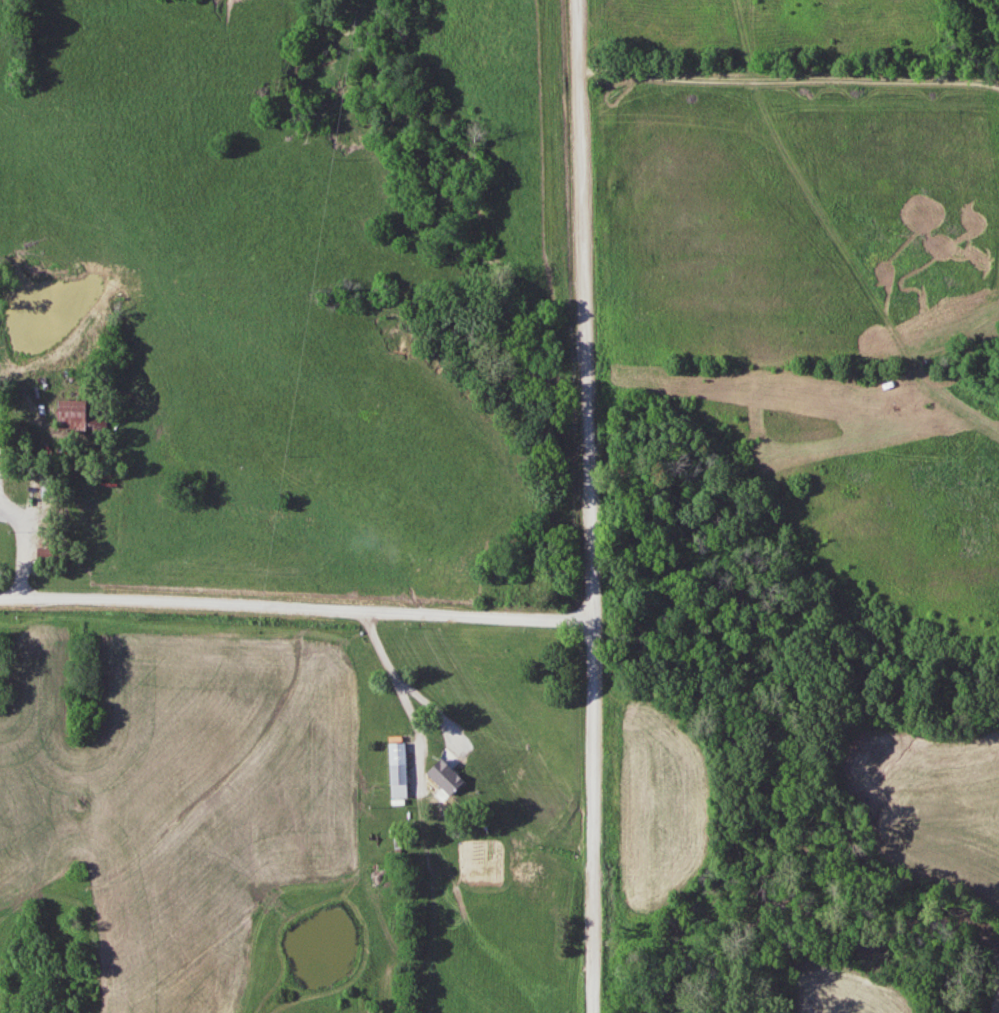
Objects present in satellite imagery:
road: (790, 80)
building: (81, 416)
building: (1, 489)
road: (589, 506)
road: (19, 514)
building: (54, 557)
road: (295, 610)
road: (405, 702)
building: (401, 771)
building: (450, 778)

